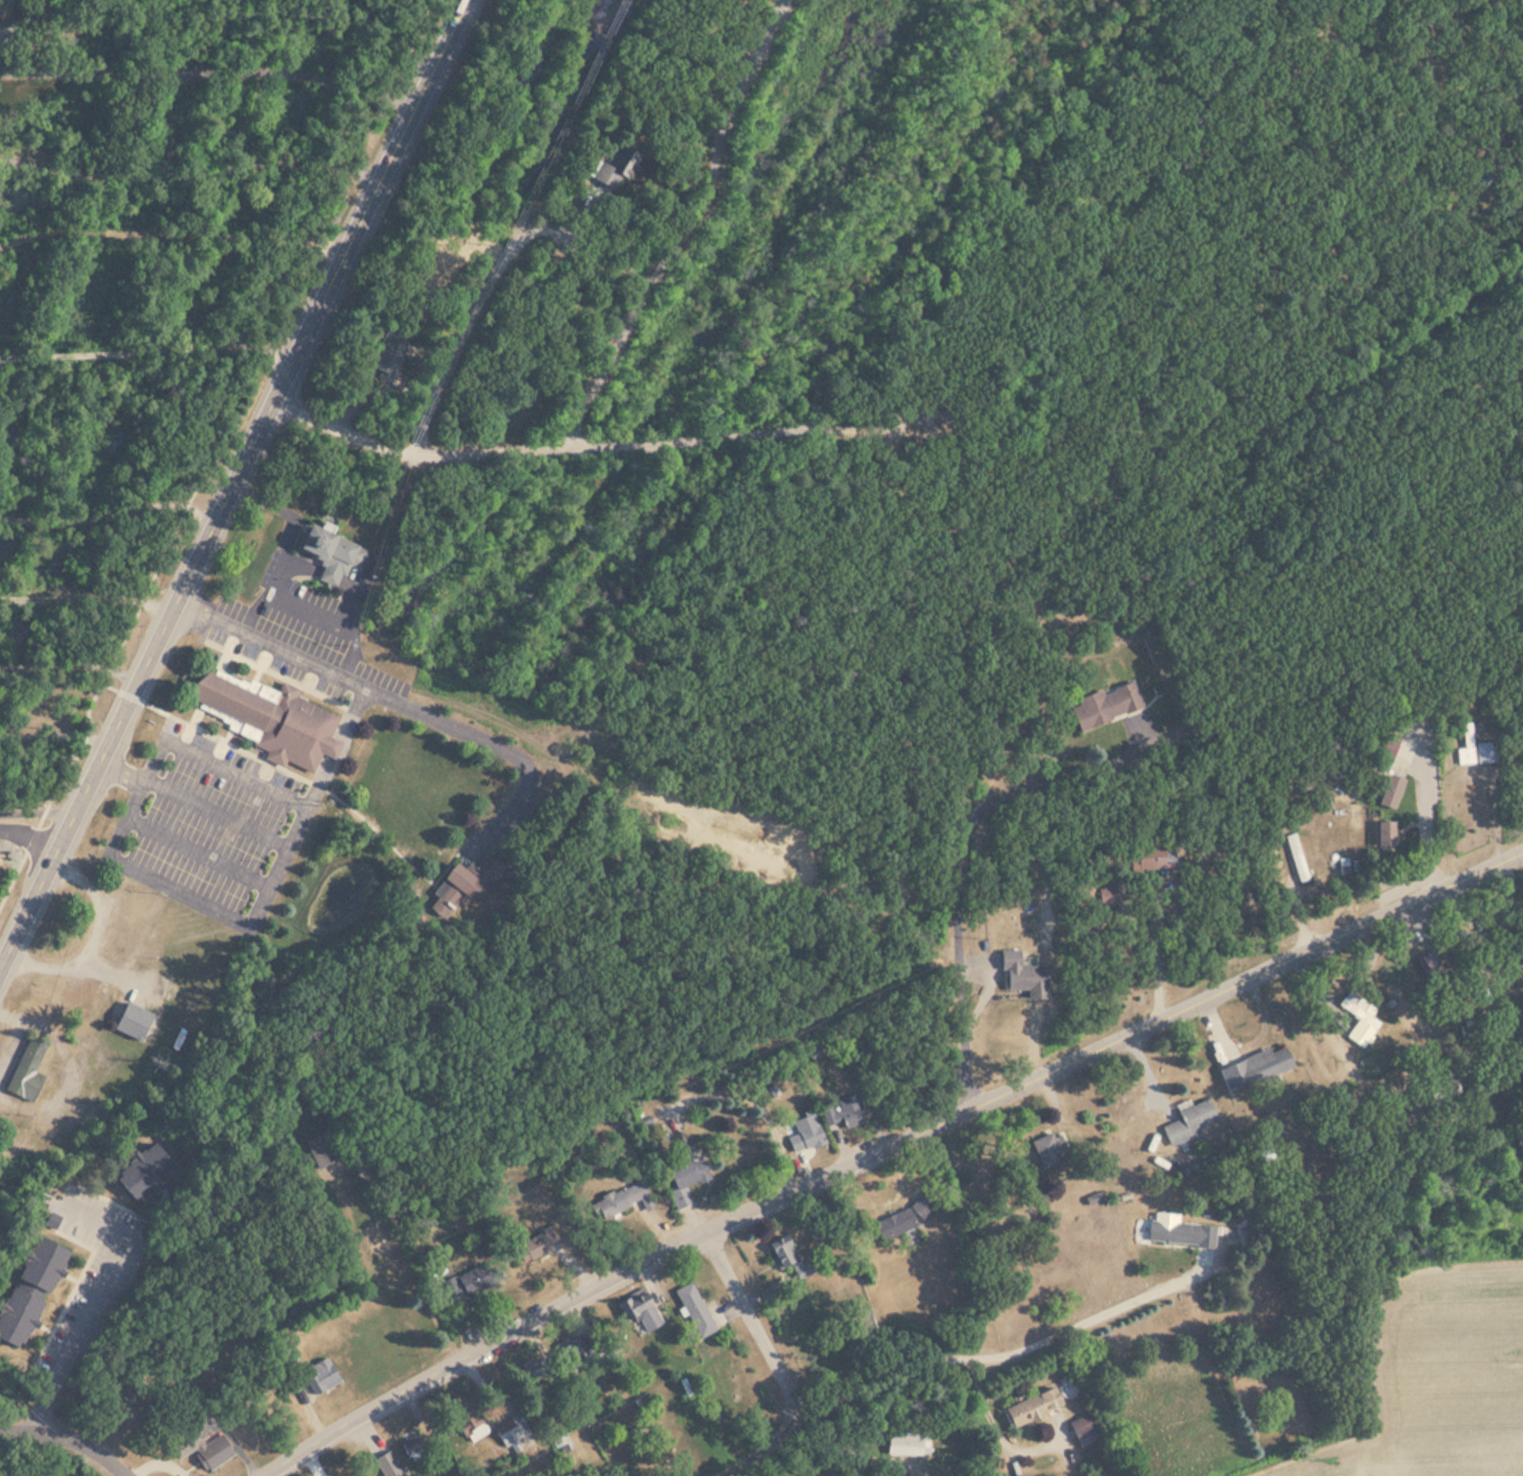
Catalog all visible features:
road: (222, 12)
road: (211, 66)
building: (616, 171)
road: (190, 172)
road: (382, 175)
building: (1481, 179)
road: (686, 228)
road: (172, 234)
road: (462, 325)
road: (146, 346)
building: (388, 359)
road: (505, 451)
road: (110, 505)
building: (329, 553)
road: (84, 595)
road: (146, 658)
road: (70, 665)
road: (396, 697)
building: (1105, 706)
building: (270, 719)
road: (53, 737)
road: (343, 747)
building: (1388, 748)
building: (1474, 749)
building: (1391, 792)
road: (219, 814)
parking lot: (211, 828)
building: (1384, 834)
road: (29, 835)
road: (199, 854)
building: (1153, 856)
building: (1298, 858)
building: (475, 876)
building: (1106, 890)
road: (262, 904)
building: (1016, 968)
road: (1209, 996)
building: (1361, 1018)
building: (132, 1021)
building: (1252, 1061)
building: (27, 1067)
building: (841, 1107)
building: (1180, 1112)
building: (804, 1129)
building: (1044, 1145)
building: (321, 1148)
building: (144, 1172)
building: (681, 1173)
building: (611, 1195)
building: (52, 1220)
building: (890, 1220)
building: (1179, 1231)
building: (378, 1239)
building: (528, 1242)
building: (781, 1251)
building: (40, 1265)
building: (460, 1277)
road: (92, 1298)
road: (579, 1298)
building: (639, 1305)
building: (693, 1305)
building: (17, 1315)
road: (764, 1328)
building: (581, 1353)
building: (320, 1374)
building: (121, 1400)
building: (1033, 1407)
building: (470, 1421)
building: (1083, 1430)
road: (67, 1439)
building: (561, 1441)
building: (908, 1443)
building: (203, 1446)
road: (766, 1454)
building: (388, 1465)

